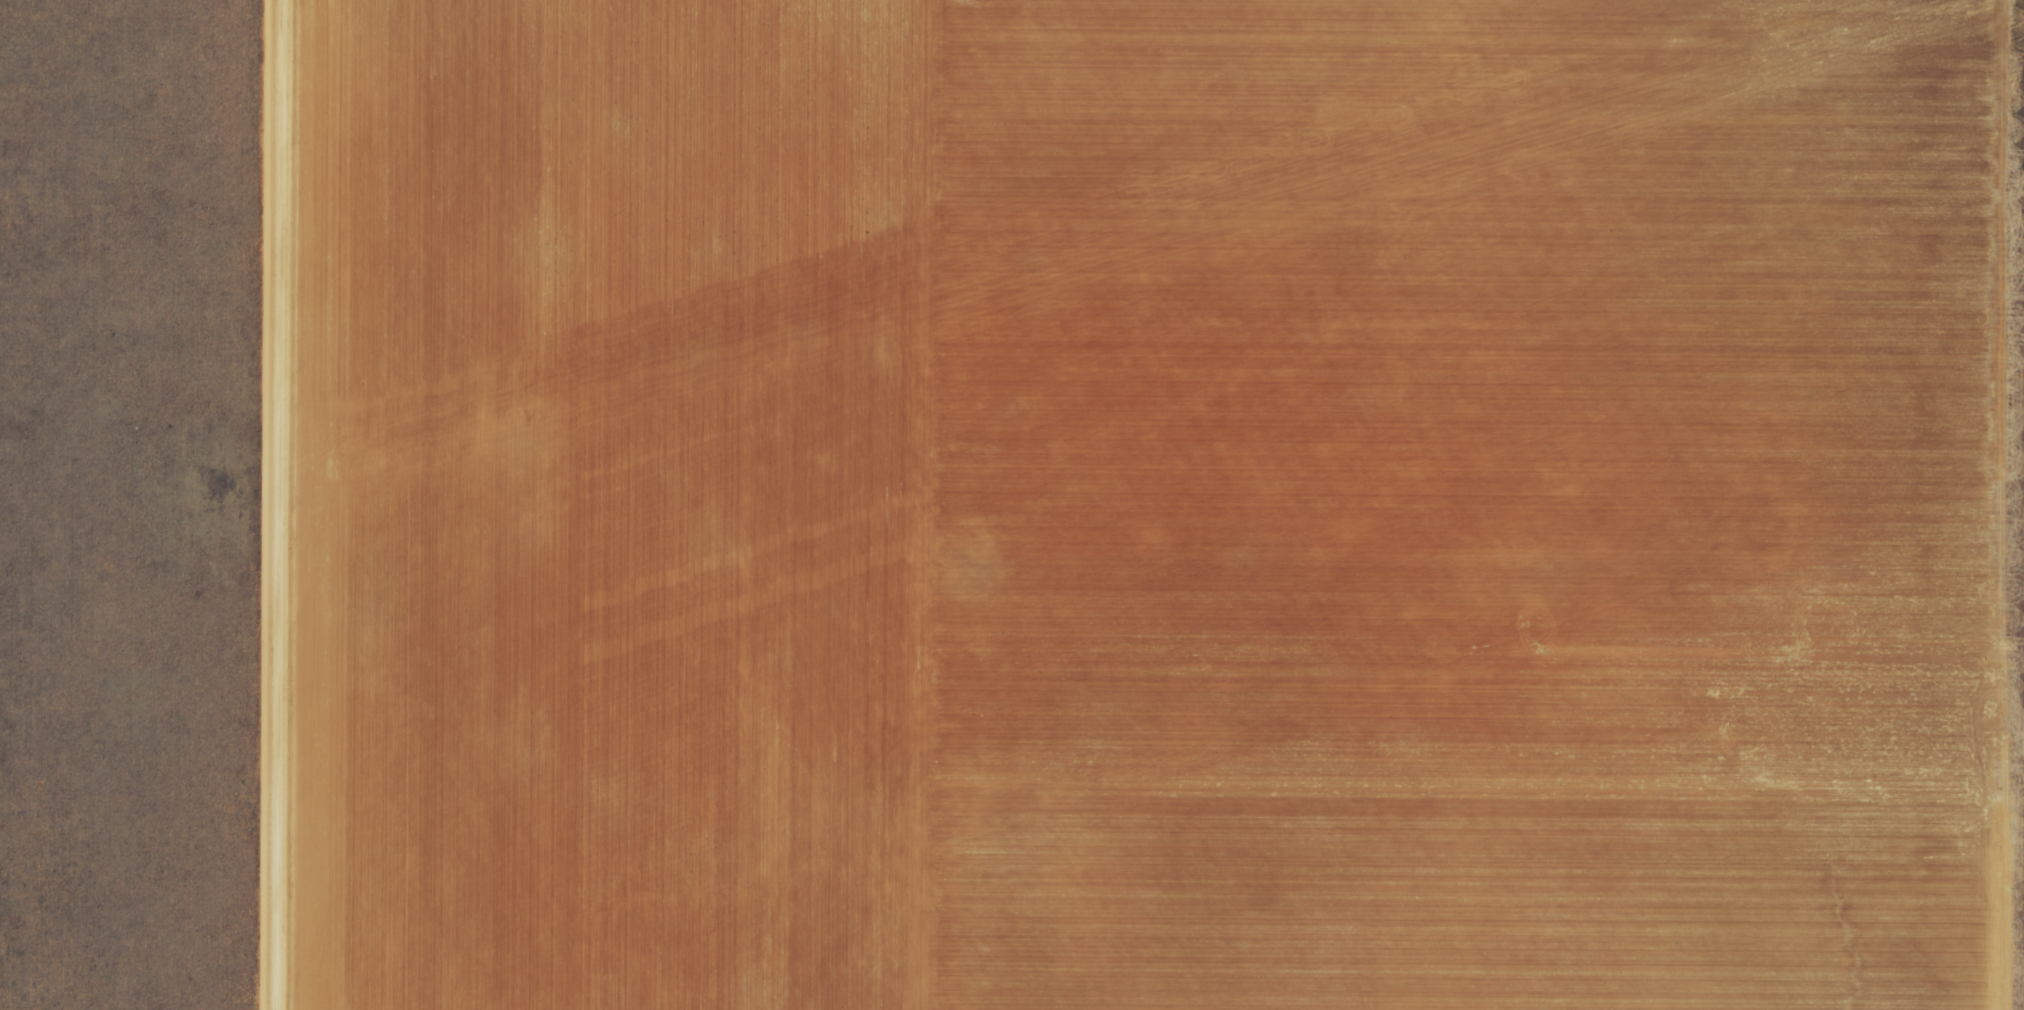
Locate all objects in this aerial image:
road: (316, 505)
road: (2021, 505)

